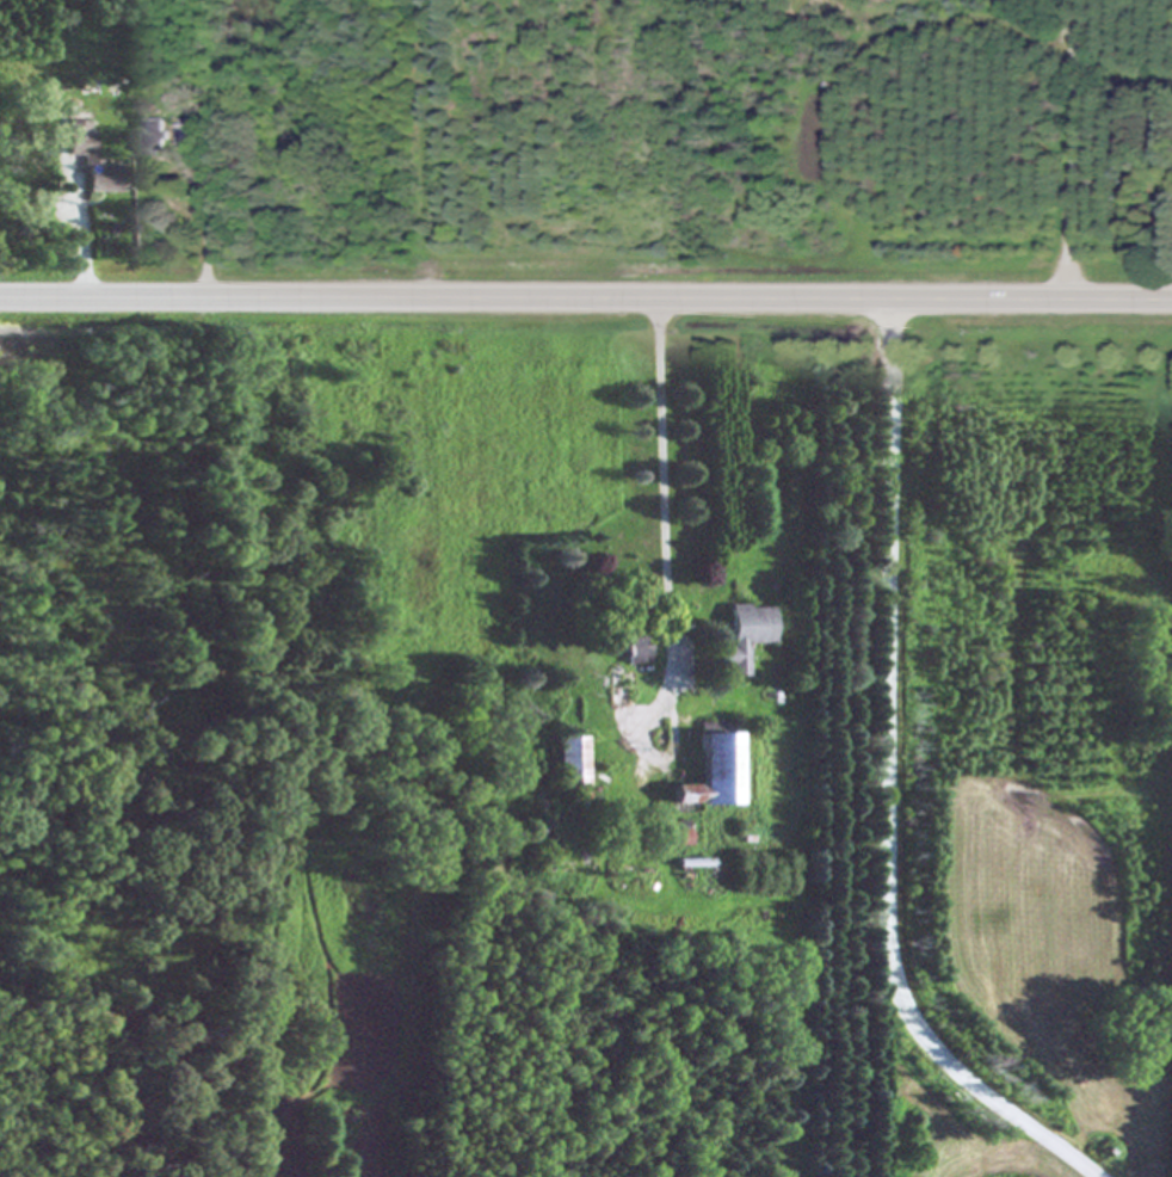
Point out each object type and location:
building: (186, 137)
building: (154, 138)
road: (1073, 147)
building: (94, 160)
road: (211, 240)
road: (86, 244)
road: (585, 295)
road: (670, 579)
building: (748, 636)
building: (633, 652)
building: (572, 760)
building: (714, 774)
road: (893, 781)

